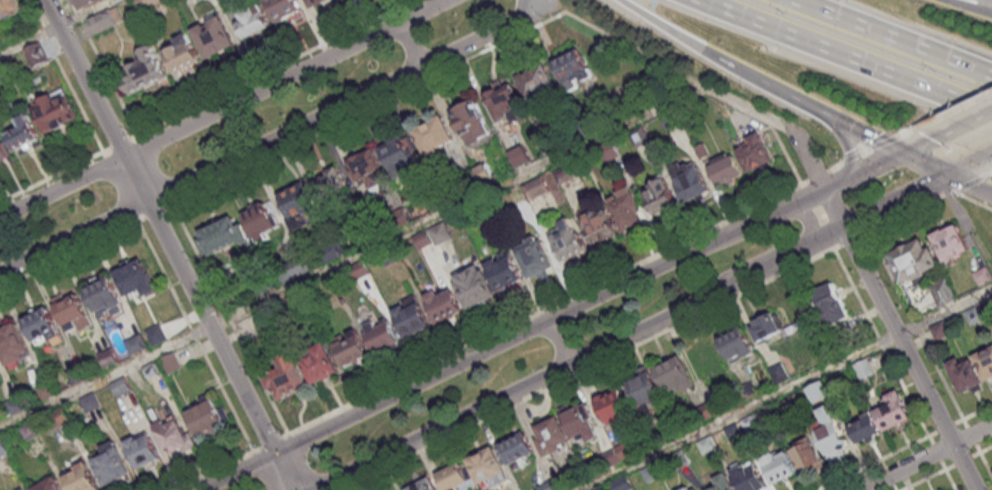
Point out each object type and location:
building: (316, 2)
road: (546, 2)
building: (88, 3)
building: (147, 3)
road: (975, 4)
building: (10, 9)
building: (284, 9)
road: (88, 13)
building: (106, 19)
building: (253, 20)
building: (214, 36)
road: (883, 40)
road: (30, 41)
road: (686, 41)
road: (409, 44)
building: (36, 53)
building: (182, 53)
road: (842, 61)
building: (571, 66)
road: (104, 68)
road: (278, 68)
building: (144, 70)
road: (441, 74)
road: (66, 76)
building: (538, 83)
road: (792, 96)
building: (503, 99)
building: (54, 110)
road: (222, 110)
road: (946, 111)
road: (970, 115)
building: (471, 121)
road: (778, 124)
building: (22, 131)
road: (865, 133)
building: (434, 134)
road: (274, 138)
road: (925, 138)
road: (846, 142)
road: (122, 144)
building: (3, 150)
traffic signals: (901, 151)
building: (755, 152)
building: (401, 155)
building: (520, 155)
road: (850, 158)
road: (880, 161)
road: (985, 161)
building: (724, 167)
building: (368, 168)
road: (156, 170)
road: (908, 171)
road: (990, 171)
building: (485, 172)
building: (566, 172)
road: (946, 172)
traffic signals: (954, 176)
road: (52, 178)
road: (970, 180)
building: (692, 183)
road: (121, 187)
road: (986, 190)
building: (658, 194)
building: (313, 196)
road: (972, 200)
building: (627, 210)
road: (156, 213)
road: (907, 213)
building: (263, 218)
road: (811, 219)
road: (162, 225)
building: (600, 226)
building: (221, 235)
building: (433, 235)
road: (852, 240)
building: (568, 241)
building: (950, 242)
road: (69, 254)
road: (353, 259)
building: (914, 259)
building: (535, 260)
road: (772, 261)
building: (505, 270)
building: (983, 276)
building: (135, 279)
building: (475, 289)
building: (942, 291)
building: (104, 296)
building: (831, 302)
building: (444, 308)
road: (545, 309)
building: (72, 311)
road: (231, 319)
building: (412, 320)
building: (41, 324)
road: (915, 325)
building: (766, 326)
road: (528, 330)
building: (382, 334)
road: (196, 336)
road: (898, 339)
building: (12, 341)
road: (558, 342)
road: (882, 343)
building: (737, 344)
building: (350, 348)
building: (985, 361)
building: (319, 362)
building: (706, 362)
road: (591, 367)
building: (287, 376)
building: (675, 376)
building: (644, 387)
road: (785, 389)
building: (818, 391)
building: (90, 402)
building: (613, 405)
road: (977, 409)
building: (894, 410)
building: (207, 417)
building: (580, 422)
road: (439, 426)
building: (864, 427)
building: (174, 435)
building: (552, 435)
building: (831, 435)
road: (271, 442)
building: (516, 447)
road: (985, 447)
building: (144, 451)
traffic signals: (273, 453)
building: (806, 455)
road: (924, 457)
road: (302, 462)
road: (875, 463)
road: (985, 463)
building: (111, 465)
building: (779, 465)
building: (487, 466)
road: (213, 470)
road: (264, 470)
road: (282, 471)
road: (933, 473)
building: (81, 478)
building: (455, 478)
building: (751, 478)
building: (724, 482)
building: (49, 484)
building: (423, 485)
building: (691, 487)
building: (24, 489)

